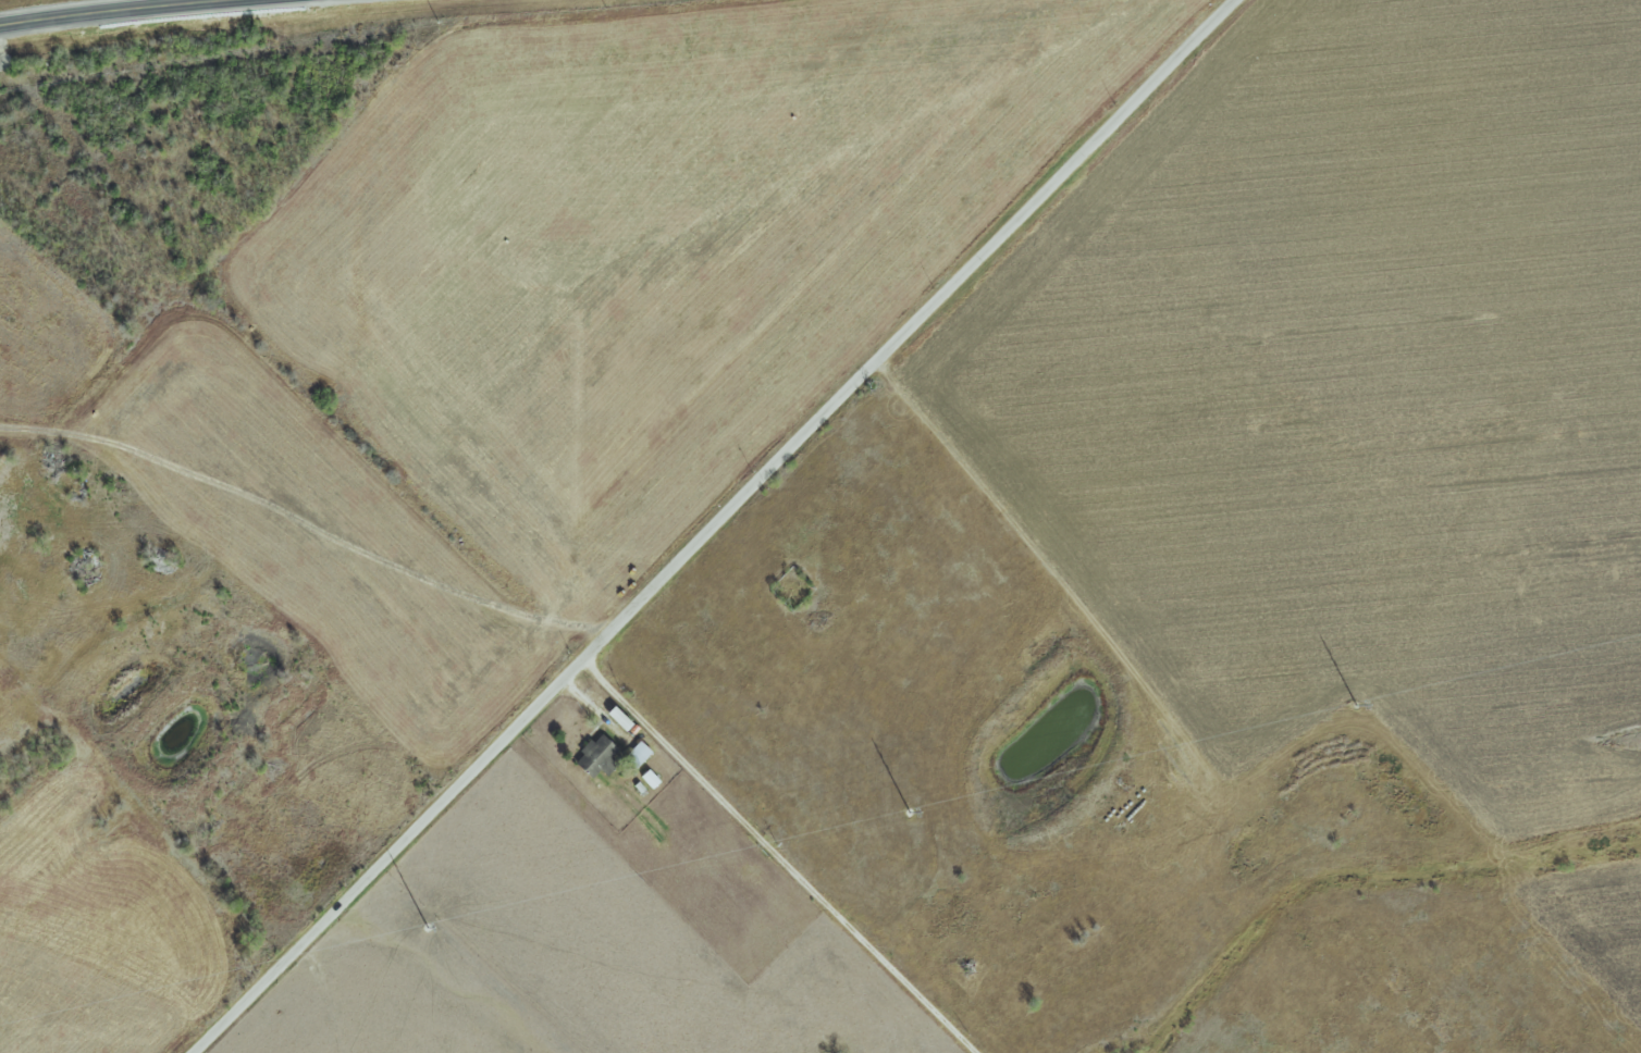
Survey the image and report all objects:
road: (118, 10)
building: (1, 462)
road: (712, 526)
building: (156, 562)
power tower: (1355, 705)
building: (617, 717)
power tower: (908, 813)
road: (775, 856)
power tower: (427, 927)

